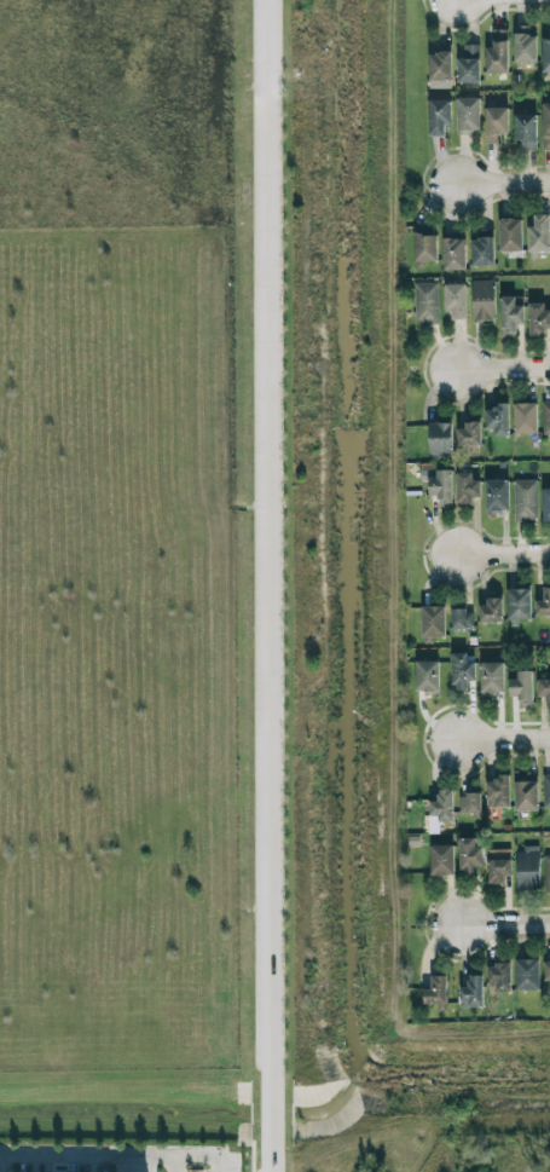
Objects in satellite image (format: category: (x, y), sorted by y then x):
building: (523, 46)
building: (497, 52)
building: (439, 64)
building: (468, 64)
building: (467, 114)
building: (438, 116)
building: (494, 123)
building: (545, 126)
building: (525, 129)
road: (504, 181)
building: (509, 233)
building: (538, 233)
building: (424, 247)
building: (481, 250)
building: (452, 253)
building: (456, 300)
building: (482, 300)
building: (427, 301)
building: (511, 313)
building: (537, 319)
road: (504, 369)
building: (545, 417)
building: (498, 420)
building: (526, 420)
building: (469, 435)
building: (440, 438)
building: (441, 487)
building: (467, 489)
building: (497, 495)
building: (525, 498)
building: (545, 504)
road: (504, 552)
road: (270, 585)
building: (543, 602)
building: (517, 605)
building: (490, 611)
building: (461, 618)
building: (432, 620)
building: (461, 670)
building: (427, 676)
building: (491, 676)
building: (521, 687)
building: (543, 689)
road: (504, 738)
building: (545, 789)
building: (497, 791)
building: (525, 791)
building: (469, 802)
building: (441, 804)
building: (469, 854)
building: (440, 859)
building: (497, 866)
building: (526, 868)
building: (546, 872)
road: (504, 924)
building: (546, 969)
building: (526, 974)
building: (498, 976)
building: (434, 991)
building: (470, 992)
road: (251, 1155)
road: (111, 1164)

